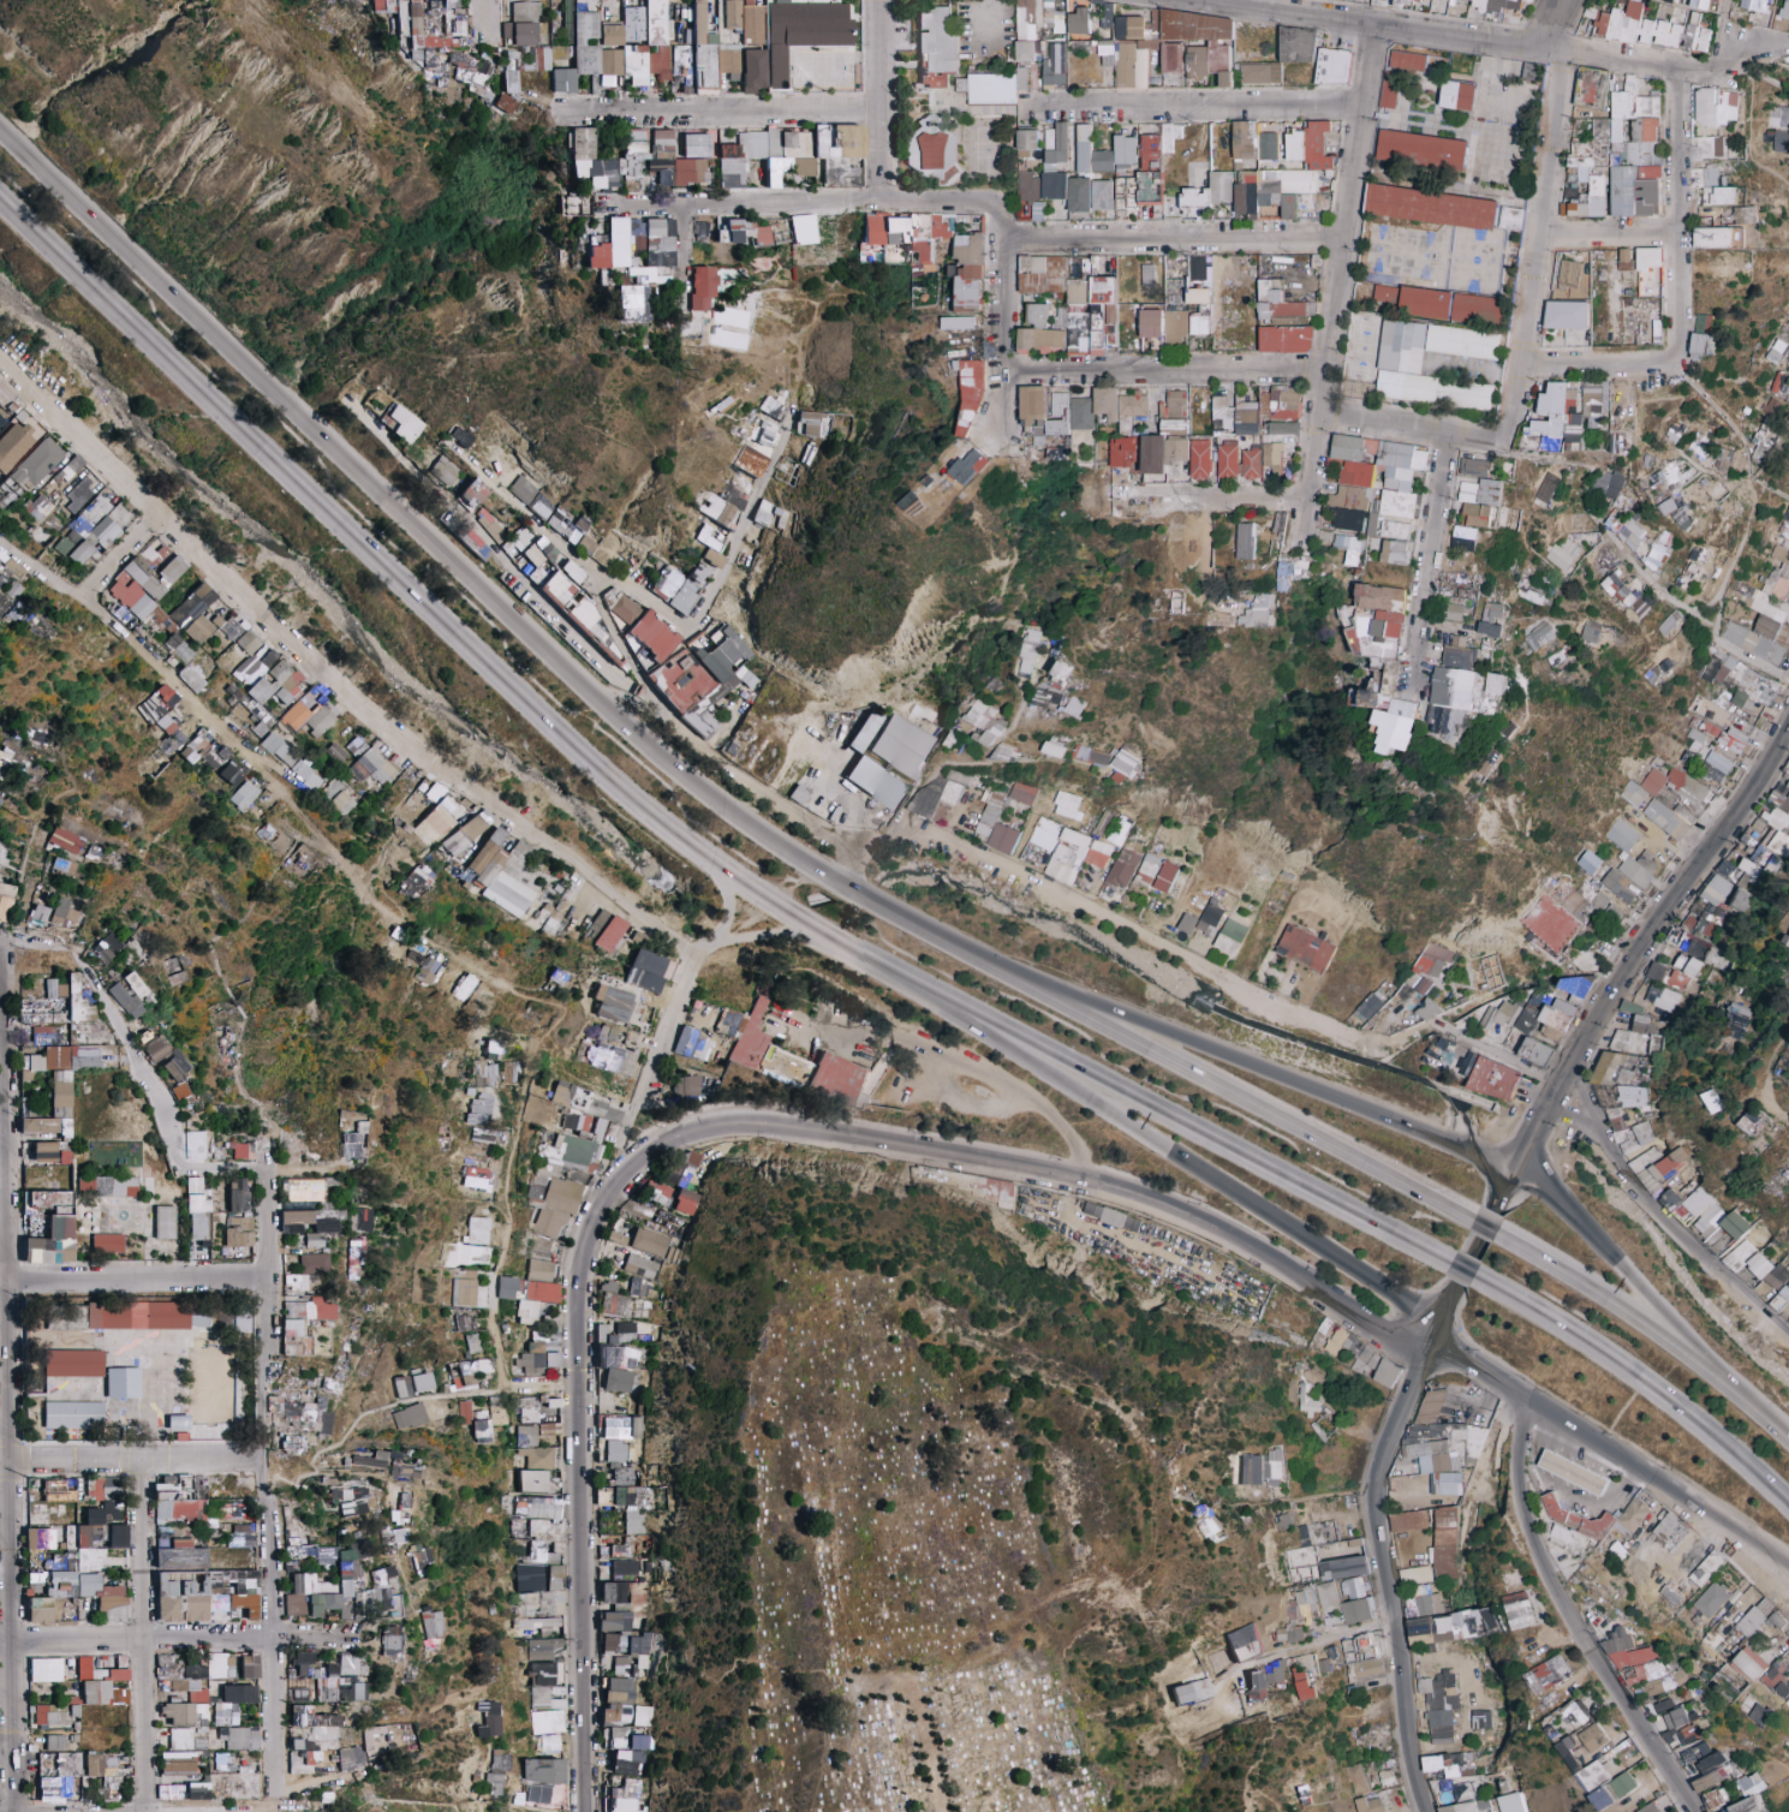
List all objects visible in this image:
gas station: (1568, 1473)

